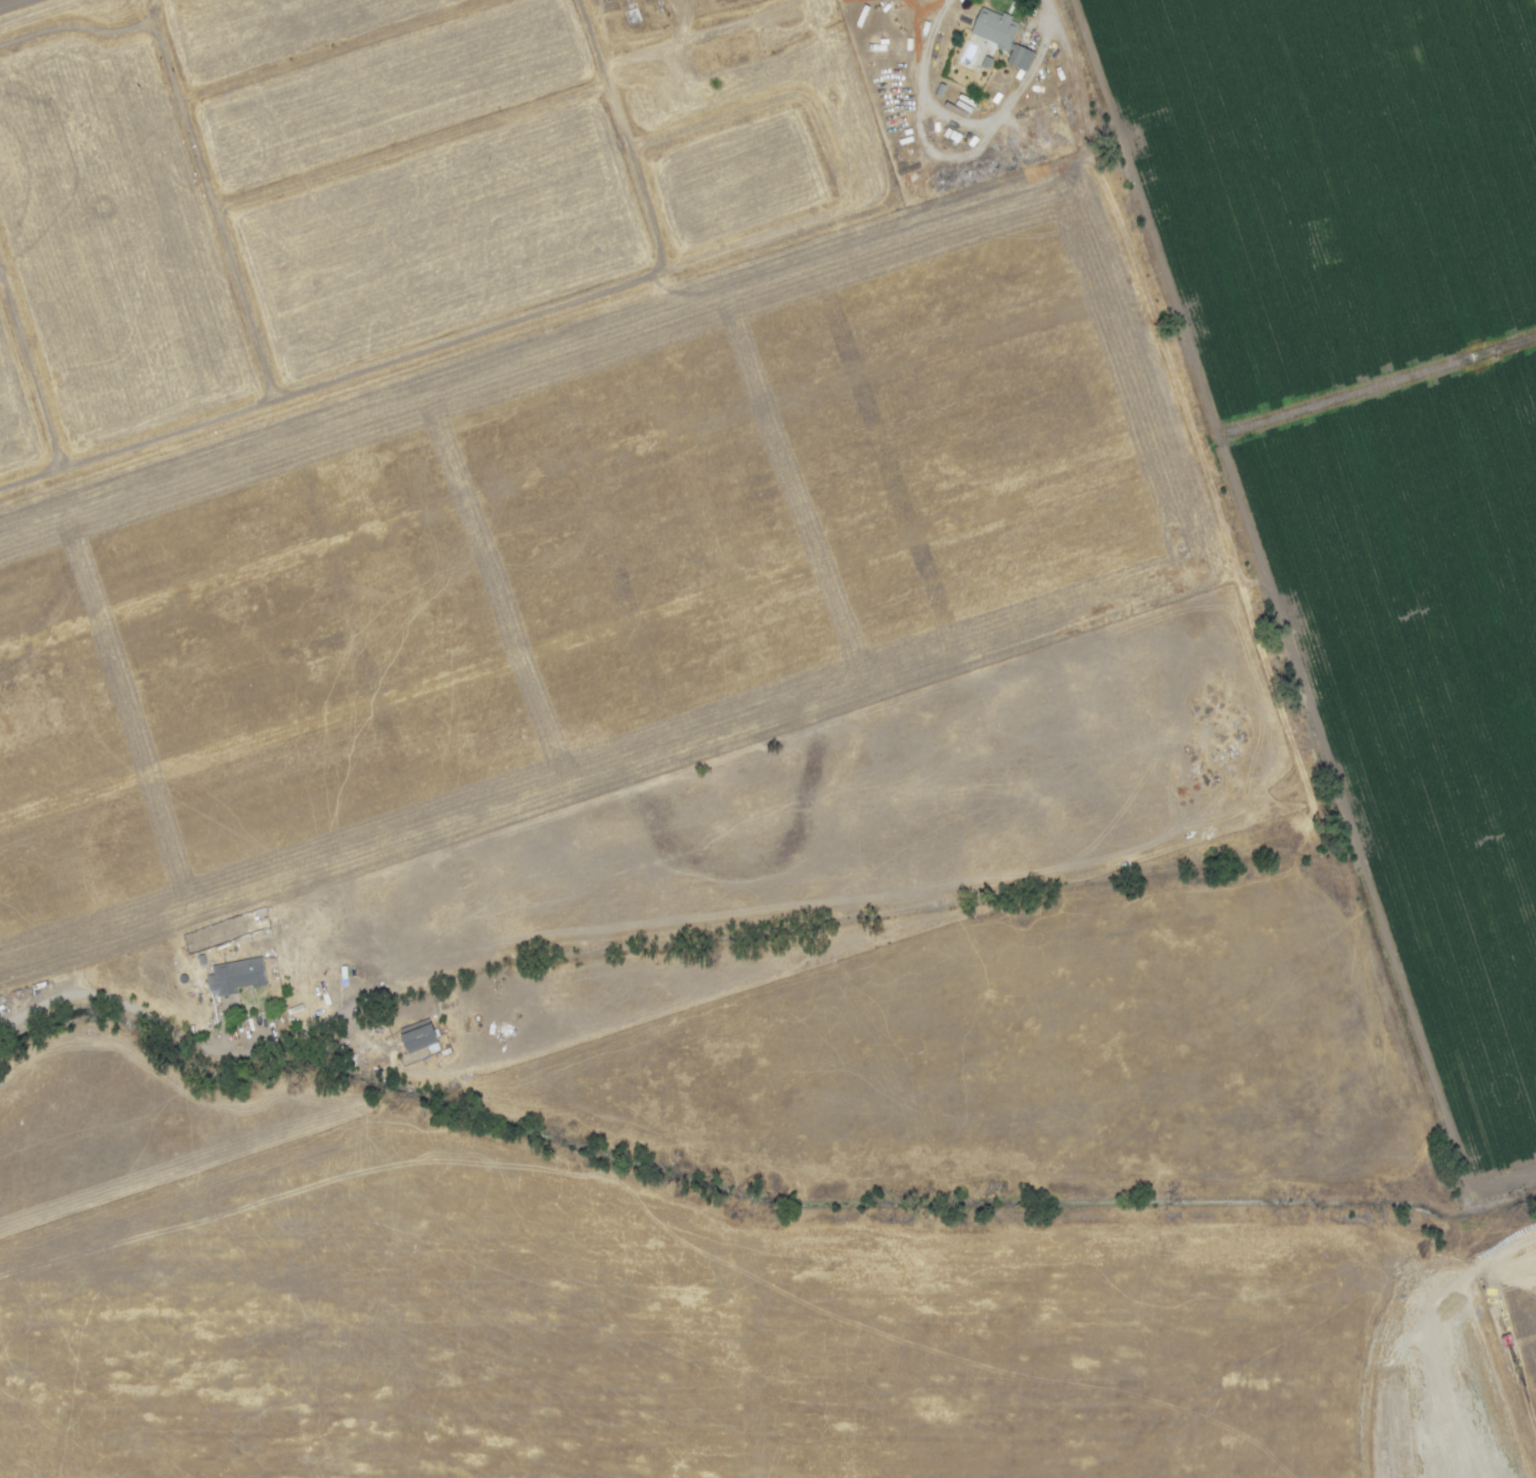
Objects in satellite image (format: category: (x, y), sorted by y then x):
road: (1045, 10)
building: (1005, 36)
building: (234, 976)
railway: (94, 990)
road: (98, 996)
building: (417, 1035)

